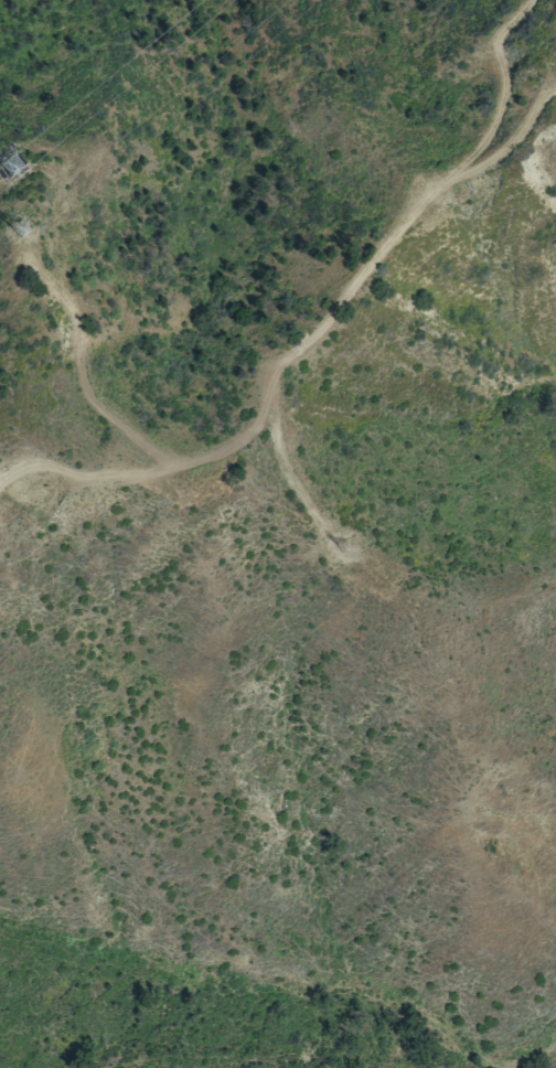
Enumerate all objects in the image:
power tower: (14, 170)
power tower: (29, 233)
road: (378, 261)
power tower: (347, 549)

